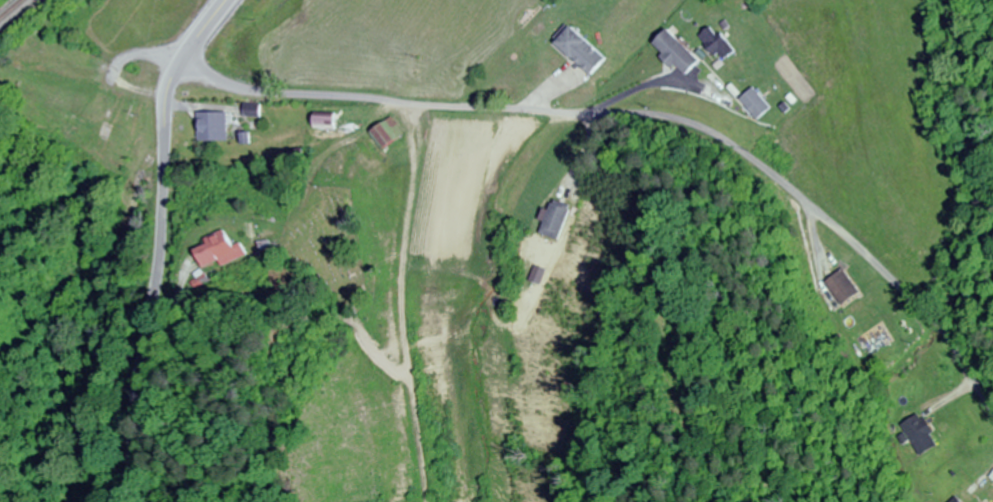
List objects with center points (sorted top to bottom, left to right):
railway: (10, 9)
road: (205, 25)
building: (715, 42)
building: (576, 51)
building: (673, 52)
road: (152, 54)
road: (180, 57)
building: (752, 103)
building: (250, 110)
road: (642, 114)
building: (212, 128)
building: (386, 133)
building: (553, 221)
building: (219, 253)
road: (162, 282)
building: (838, 287)
building: (918, 433)

